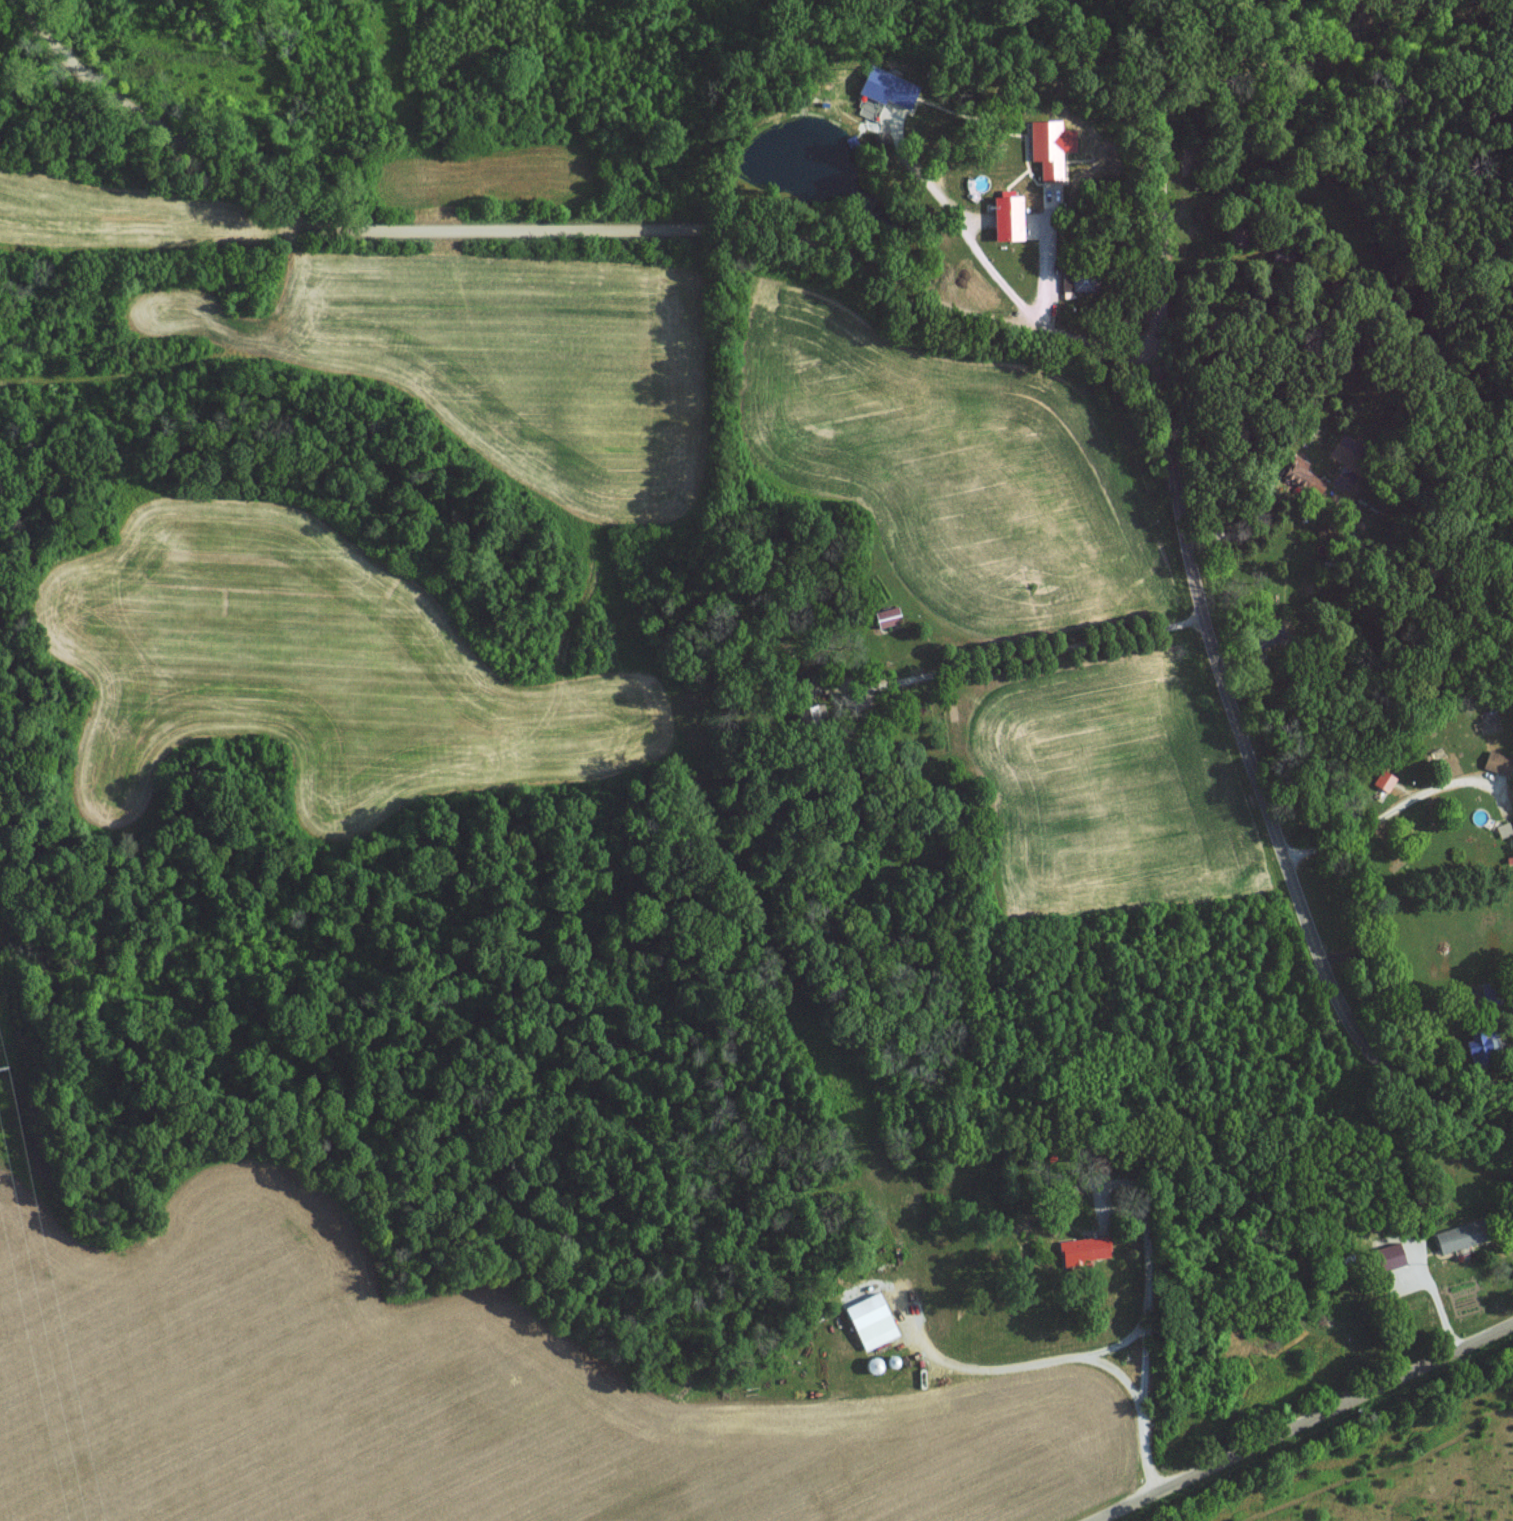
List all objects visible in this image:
road: (564, 230)
road: (1206, 623)
road: (1047, 650)
road: (1439, 1299)
road: (1062, 1358)
road: (1297, 1420)

